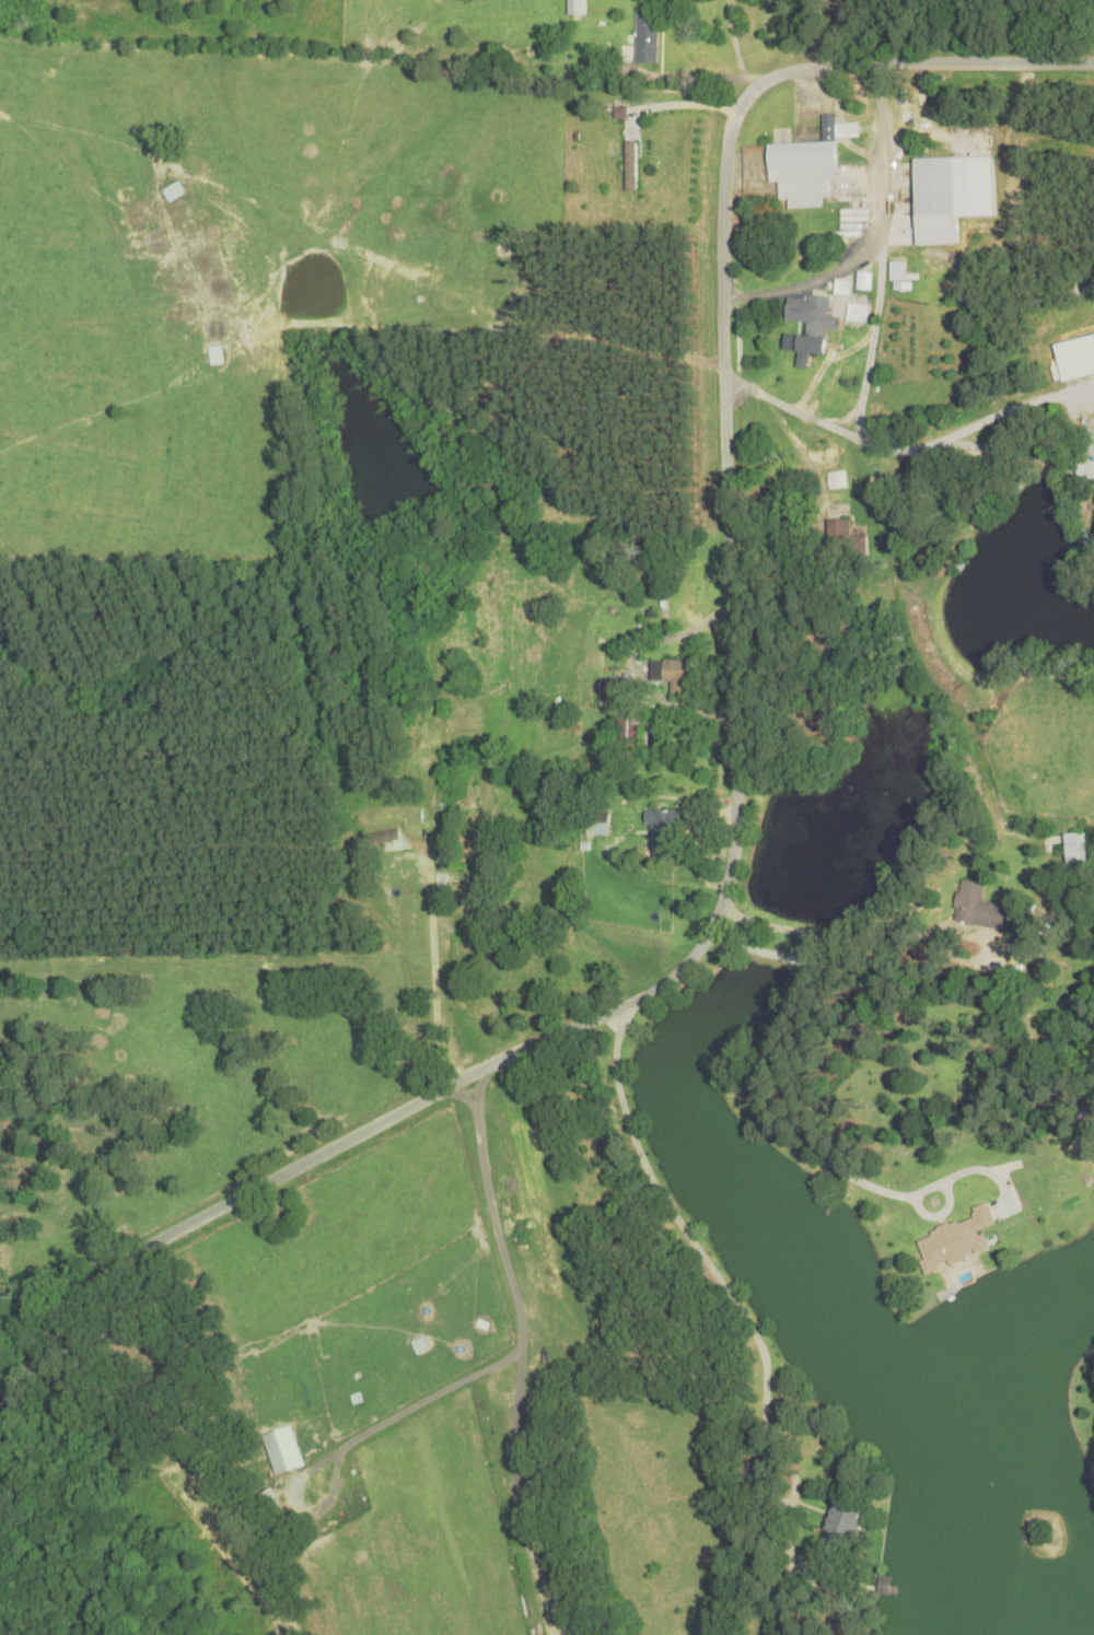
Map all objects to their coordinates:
building: (575, 8)
building: (645, 39)
building: (631, 161)
building: (806, 167)
building: (940, 199)
building: (812, 324)
building: (1087, 451)
building: (1064, 503)
building: (843, 540)
building: (672, 676)
building: (628, 736)
road: (740, 775)
building: (663, 833)
building: (1074, 844)
building: (979, 908)
road: (933, 951)
building: (490, 1004)
road: (741, 1311)
building: (845, 1522)

